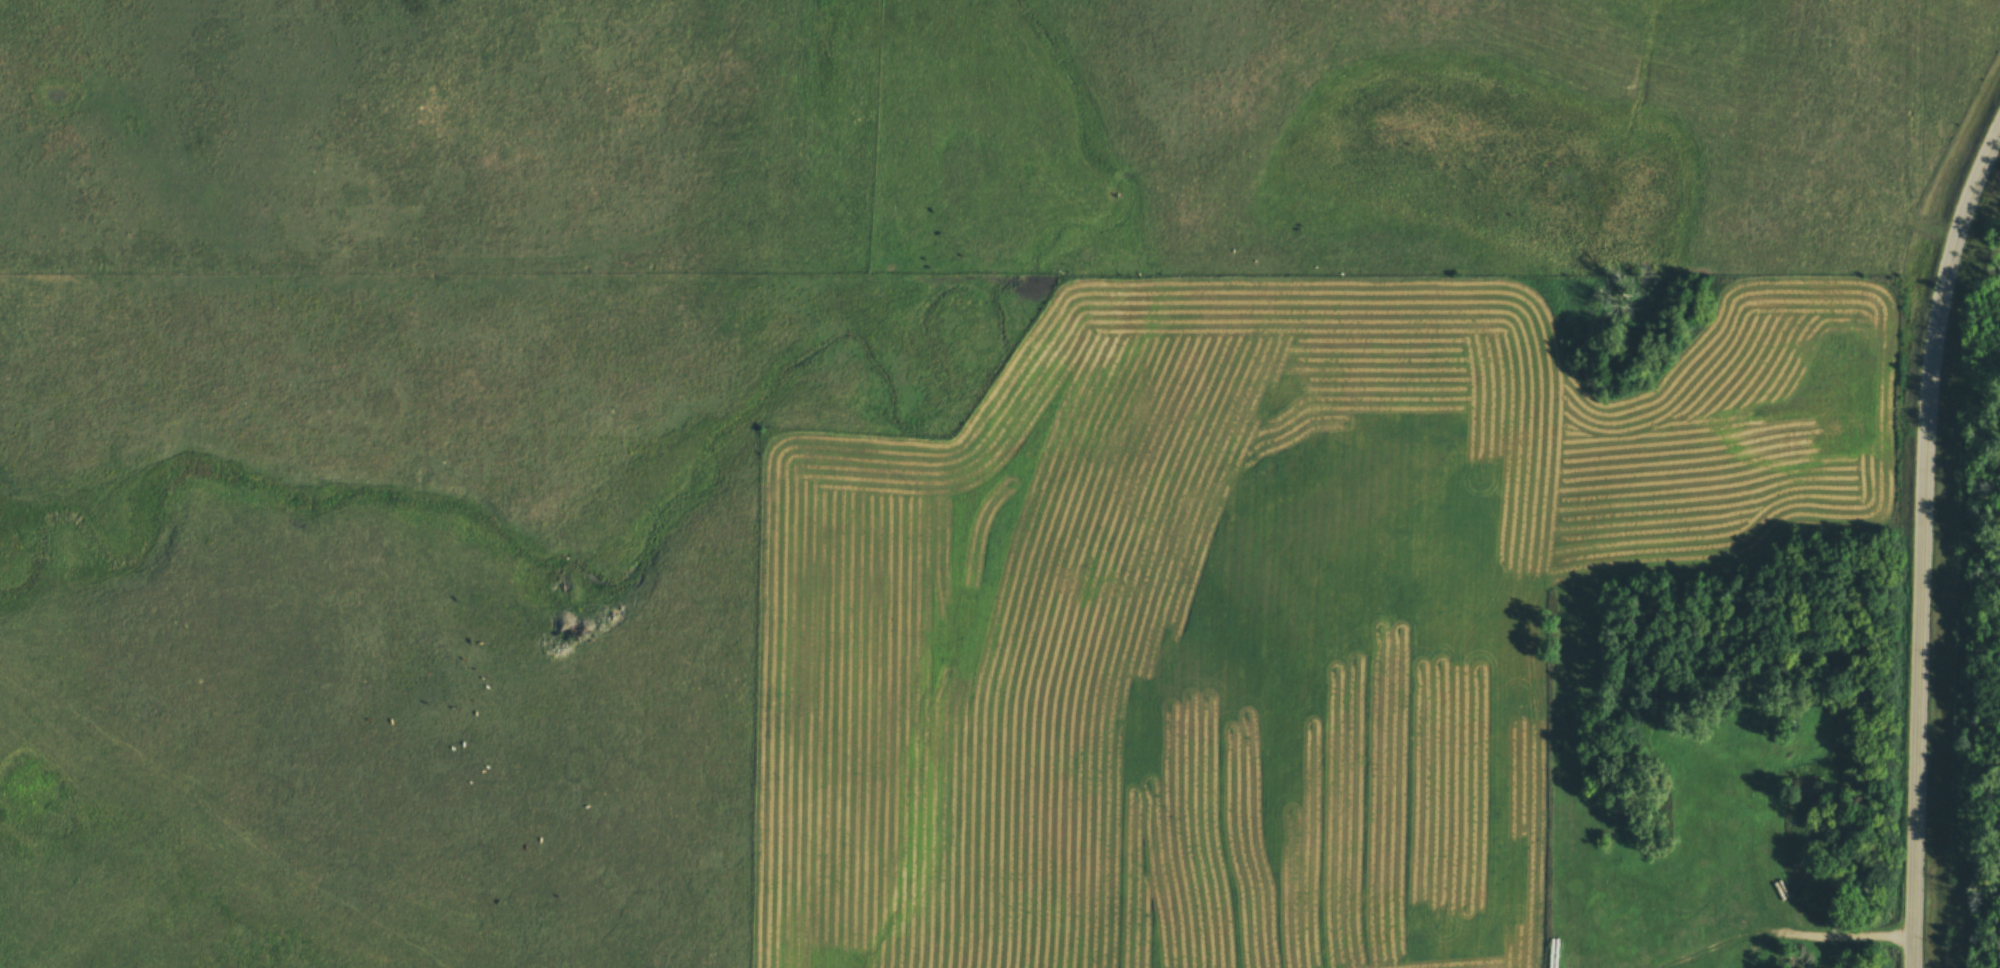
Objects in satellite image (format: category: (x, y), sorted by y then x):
road: (1926, 544)
building: (1801, 787)

